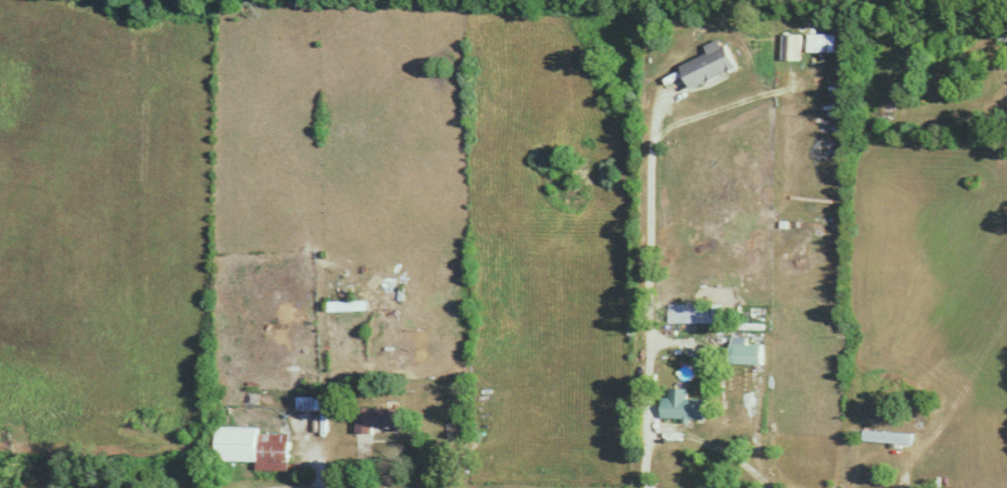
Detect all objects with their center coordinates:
building: (1002, 32)
building: (710, 63)
road: (649, 207)
building: (357, 305)
building: (687, 312)
building: (747, 353)
building: (682, 405)
building: (381, 419)
building: (891, 437)
road: (688, 438)
building: (254, 447)

